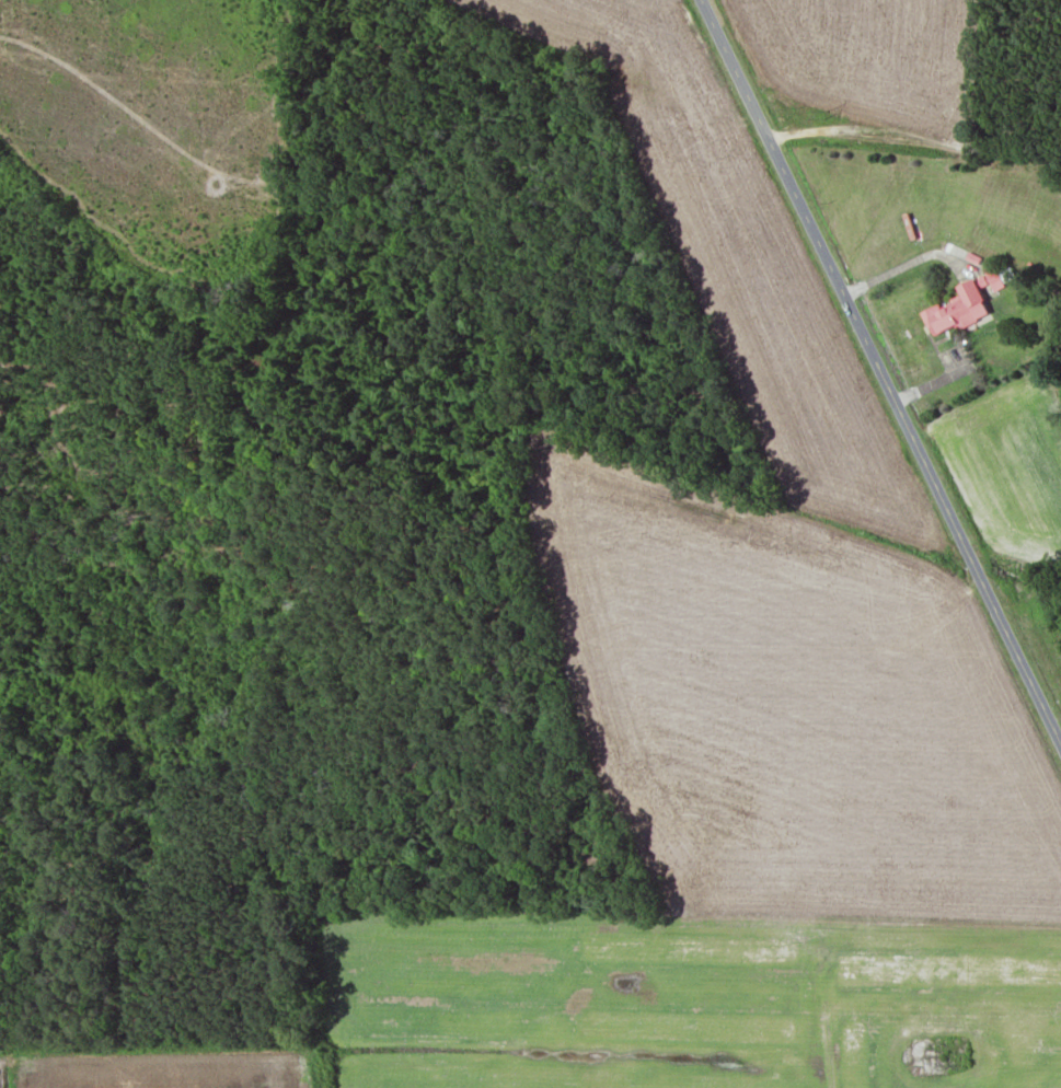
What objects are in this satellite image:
power tower: (824, 113)
road: (908, 263)
building: (964, 305)
road: (884, 374)
building: (957, 1060)

